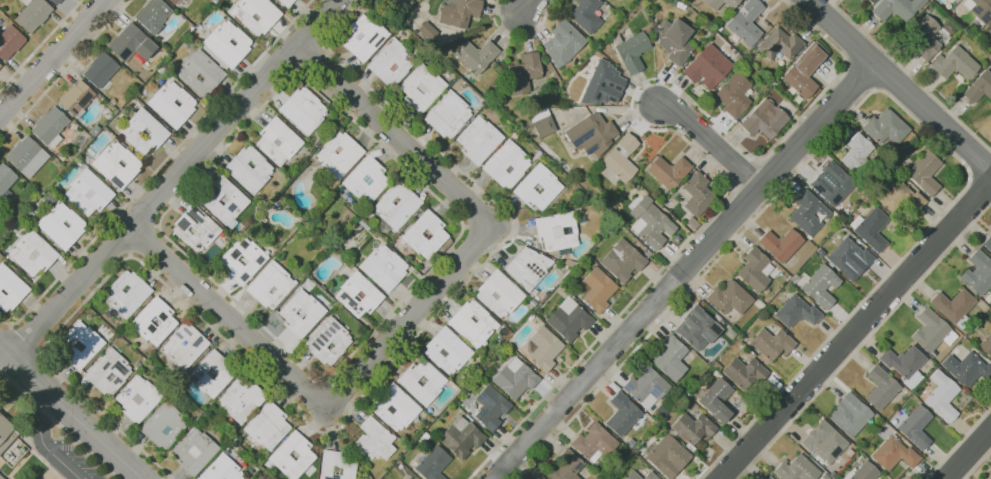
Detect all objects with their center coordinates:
building: (619, 0)
building: (867, 0)
building: (57, 1)
building: (174, 1)
building: (287, 2)
building: (399, 2)
building: (719, 3)
road: (526, 6)
building: (895, 8)
building: (978, 9)
building: (456, 13)
building: (33, 14)
building: (153, 15)
building: (585, 15)
building: (268, 19)
building: (744, 22)
building: (989, 29)
building: (427, 30)
building: (362, 36)
building: (922, 36)
road: (520, 38)
building: (10, 41)
road: (325, 41)
building: (672, 41)
building: (131, 43)
building: (228, 43)
building: (561, 43)
road: (40, 44)
building: (776, 44)
building: (631, 51)
building: (474, 55)
road: (310, 56)
road: (53, 58)
building: (389, 62)
building: (953, 63)
building: (0, 65)
building: (706, 66)
building: (101, 69)
building: (803, 70)
road: (65, 71)
road: (296, 71)
building: (525, 71)
building: (201, 72)
building: (174, 73)
road: (910, 74)
road: (899, 82)
building: (601, 84)
building: (419, 87)
building: (978, 87)
road: (879, 89)
building: (733, 95)
building: (77, 98)
building: (173, 104)
building: (303, 110)
building: (445, 113)
building: (763, 119)
building: (51, 126)
building: (542, 126)
building: (884, 126)
building: (144, 132)
building: (590, 133)
road: (685, 139)
building: (477, 140)
building: (278, 141)
road: (708, 141)
building: (63, 148)
building: (856, 150)
building: (340, 154)
building: (27, 156)
building: (64, 156)
building: (619, 157)
building: (506, 164)
building: (118, 165)
road: (158, 168)
building: (250, 169)
building: (667, 171)
building: (922, 171)
building: (6, 180)
building: (366, 180)
road: (172, 181)
building: (108, 182)
building: (832, 182)
building: (536, 187)
building: (88, 192)
building: (696, 193)
building: (892, 195)
building: (225, 200)
building: (398, 204)
building: (806, 211)
building: (19, 212)
building: (648, 221)
building: (26, 225)
building: (62, 225)
road: (479, 225)
road: (156, 226)
road: (463, 226)
building: (196, 228)
building: (870, 229)
building: (556, 232)
building: (426, 235)
road: (143, 238)
building: (987, 240)
building: (780, 243)
building: (33, 253)
road: (131, 253)
building: (847, 257)
building: (621, 259)
building: (243, 260)
building: (384, 267)
building: (528, 267)
road: (683, 268)
building: (752, 269)
building: (977, 272)
building: (271, 285)
building: (820, 285)
building: (10, 288)
building: (598, 289)
building: (128, 293)
building: (499, 293)
building: (358, 295)
building: (728, 297)
building: (952, 304)
building: (796, 310)
building: (301, 313)
road: (412, 315)
building: (569, 319)
building: (154, 321)
building: (473, 323)
building: (696, 328)
building: (929, 329)
road: (855, 333)
road: (24, 342)
building: (328, 342)
building: (770, 342)
building: (986, 344)
building: (79, 346)
building: (184, 346)
building: (543, 348)
building: (448, 350)
building: (671, 358)
building: (903, 361)
building: (966, 368)
building: (743, 370)
building: (108, 372)
building: (212, 374)
building: (515, 378)
building: (434, 384)
building: (614, 386)
building: (647, 387)
building: (879, 387)
road: (328, 393)
building: (941, 396)
building: (138, 398)
building: (241, 398)
building: (715, 399)
building: (491, 406)
building: (396, 407)
building: (623, 413)
building: (849, 414)
road: (68, 415)
road: (59, 425)
building: (164, 425)
building: (912, 425)
building: (268, 426)
road: (338, 426)
building: (693, 428)
building: (6, 433)
building: (424, 436)
building: (461, 437)
building: (375, 440)
building: (823, 441)
building: (595, 442)
road: (45, 445)
building: (195, 451)
building: (282, 452)
building: (892, 453)
building: (346, 454)
building: (668, 456)
road: (972, 458)
building: (433, 463)
building: (337, 465)
building: (566, 466)
building: (222, 469)
building: (796, 469)
building: (864, 471)
building: (633, 476)
building: (650, 476)
building: (1, 477)
building: (768, 477)
building: (541, 478)

